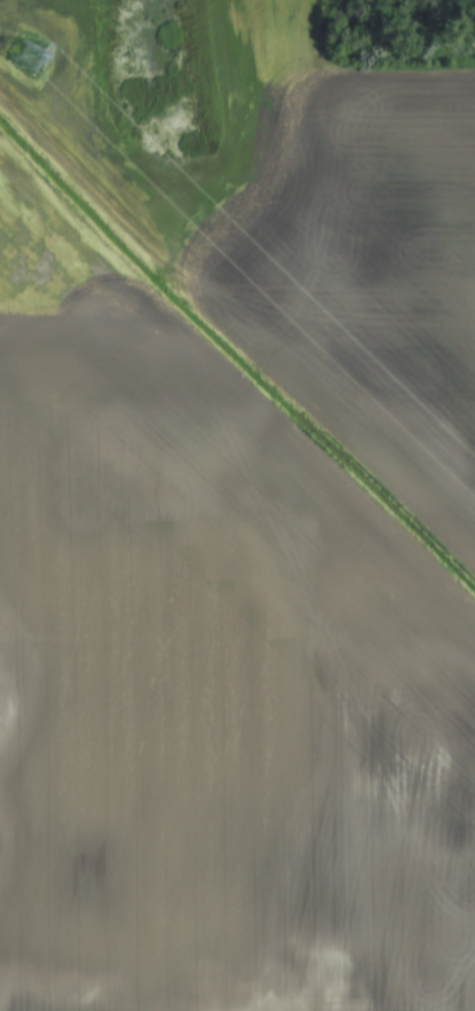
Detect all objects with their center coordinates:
power tower: (23, 52)

